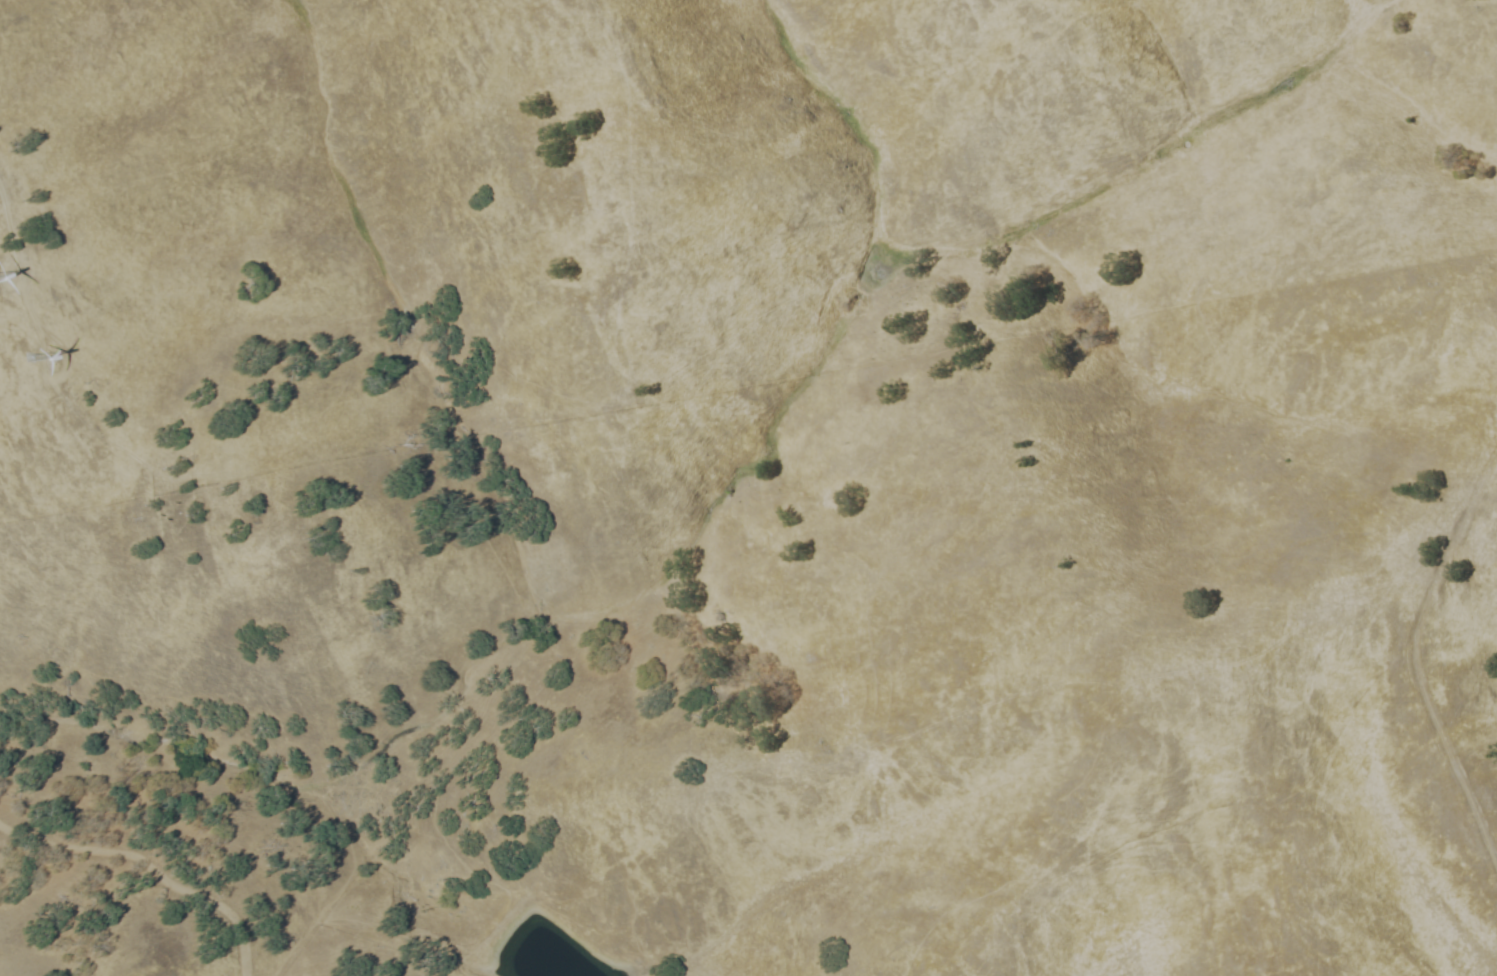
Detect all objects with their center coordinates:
road: (16, 260)
road: (0, 272)
road: (1, 278)
road: (13, 305)
wind turbine: (31, 353)
road: (58, 375)
road: (149, 867)

